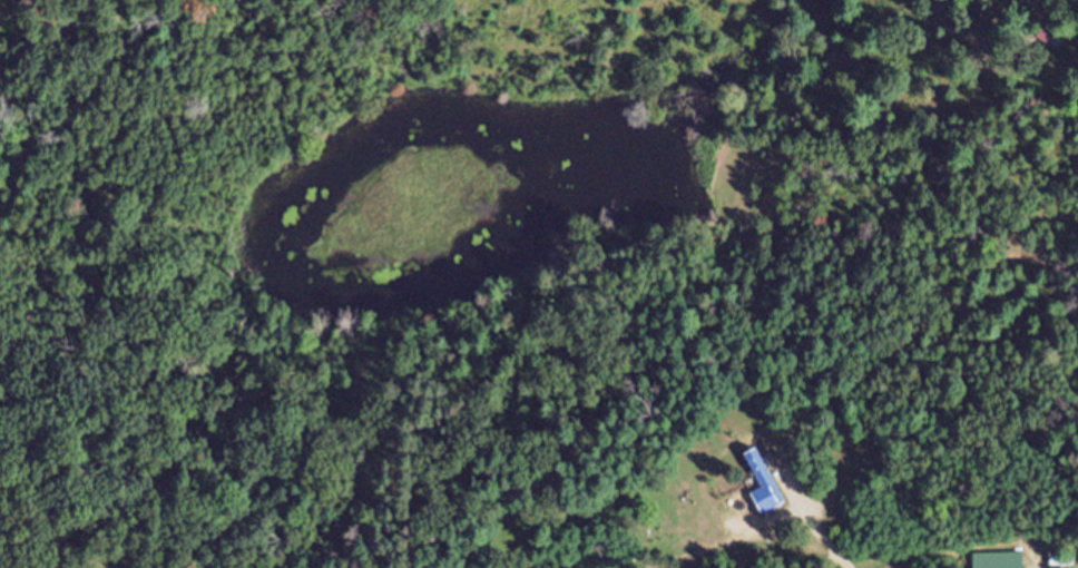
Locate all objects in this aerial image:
building: (1035, 82)
building: (762, 496)
road: (814, 522)

